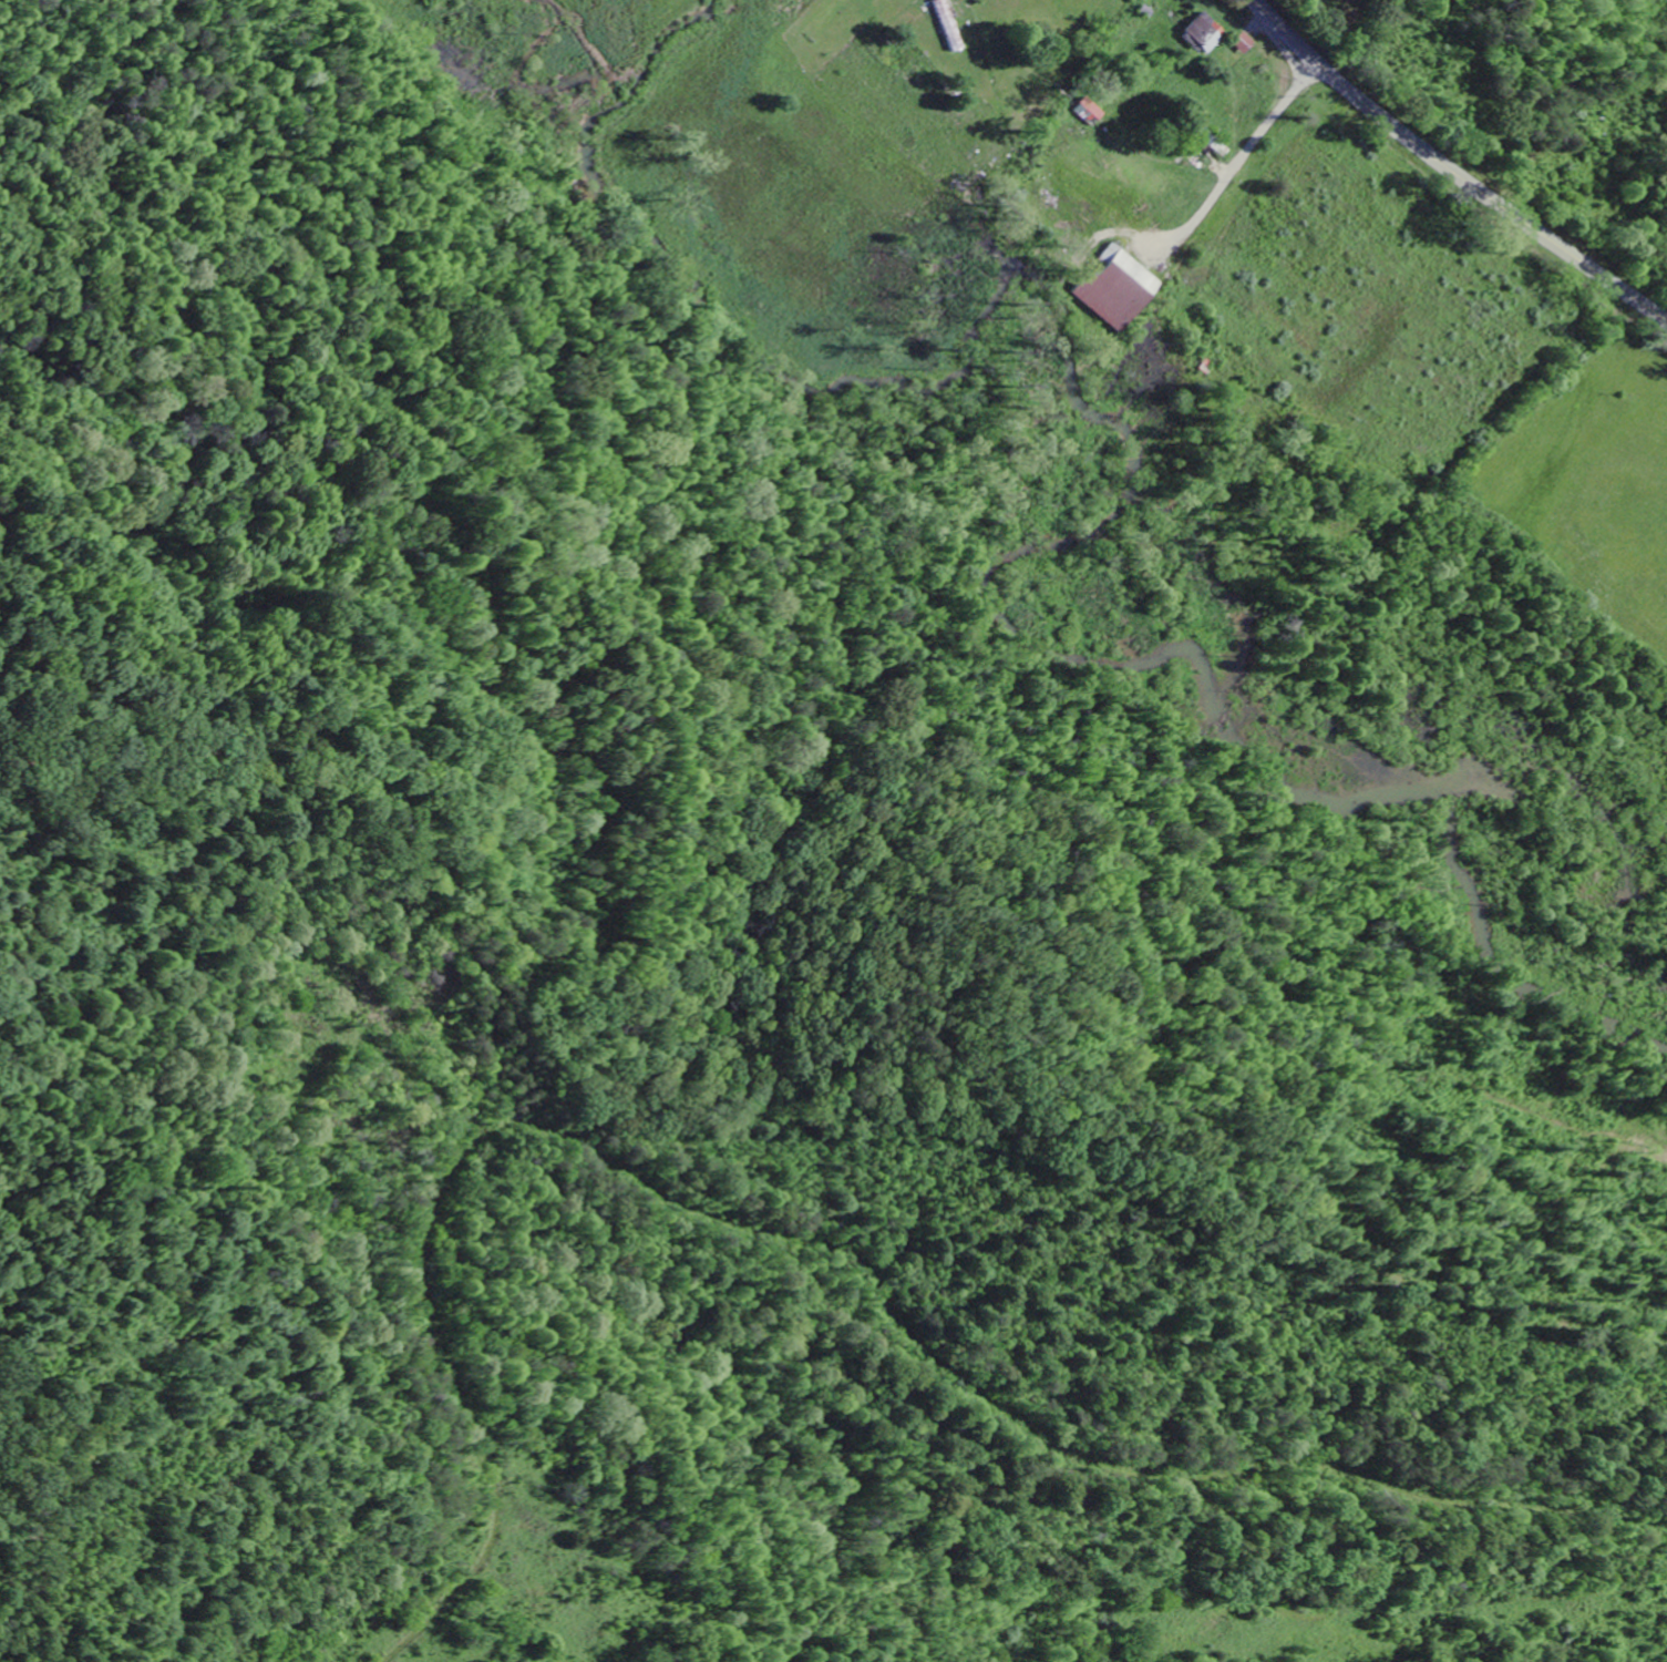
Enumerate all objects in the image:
building: (1202, 33)
building: (1242, 41)
building: (1089, 110)
road: (1452, 170)
building: (1117, 289)
road: (1475, 1608)

